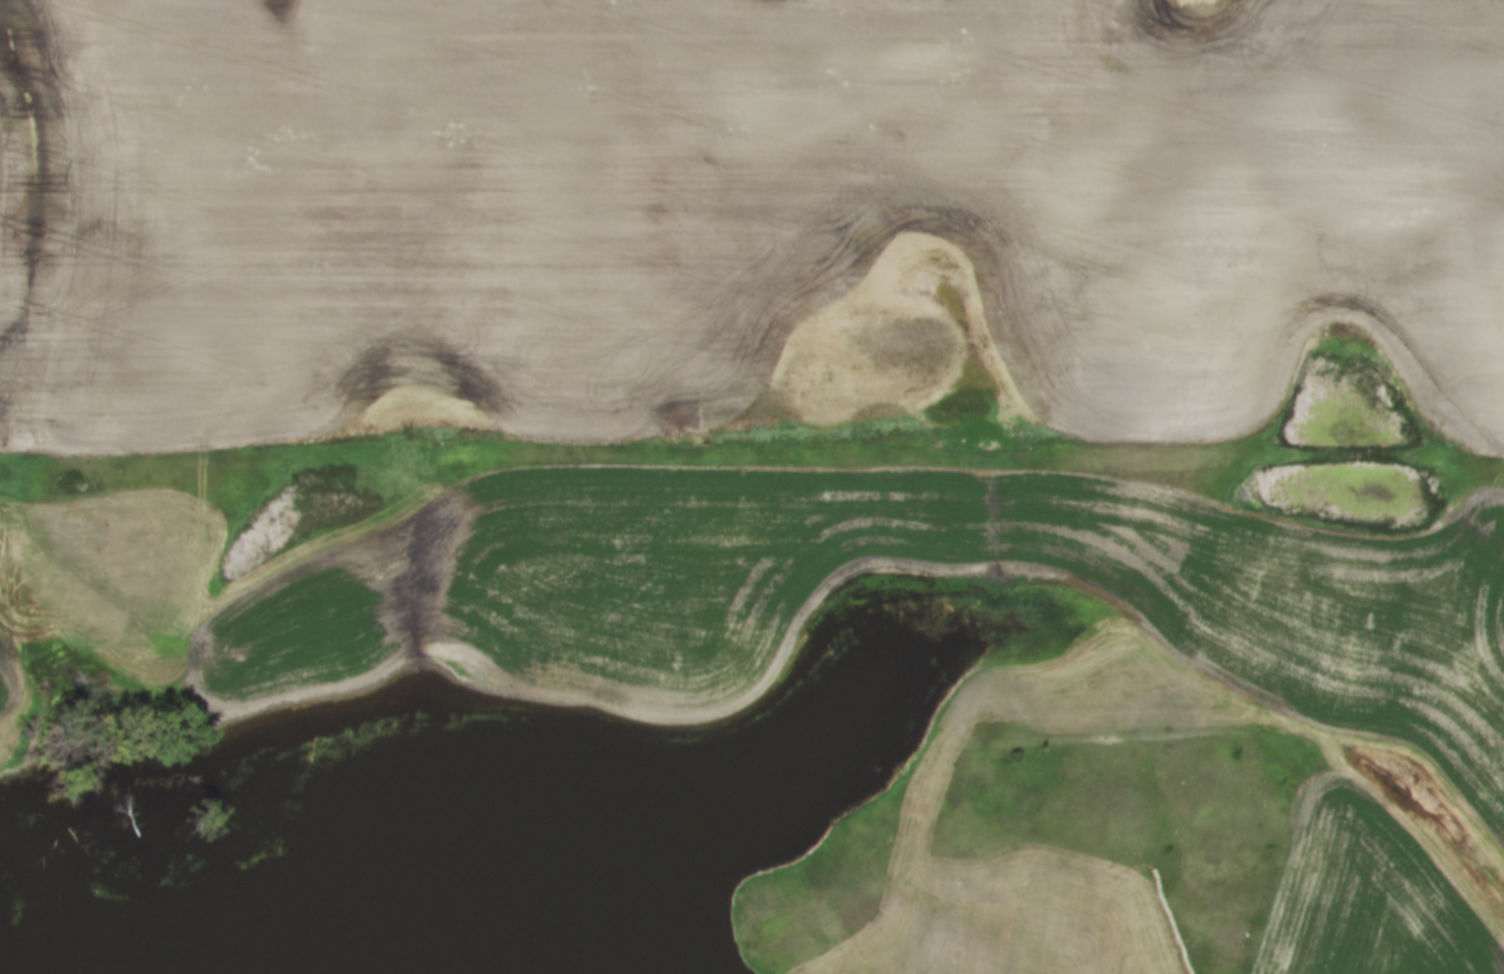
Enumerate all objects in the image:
road: (752, 479)

